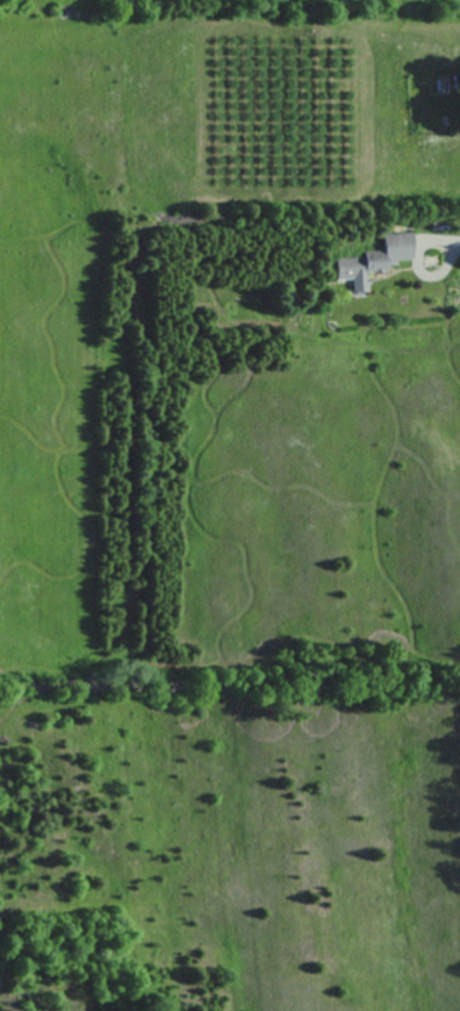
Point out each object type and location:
building: (373, 261)
building: (431, 261)
road: (415, 268)

